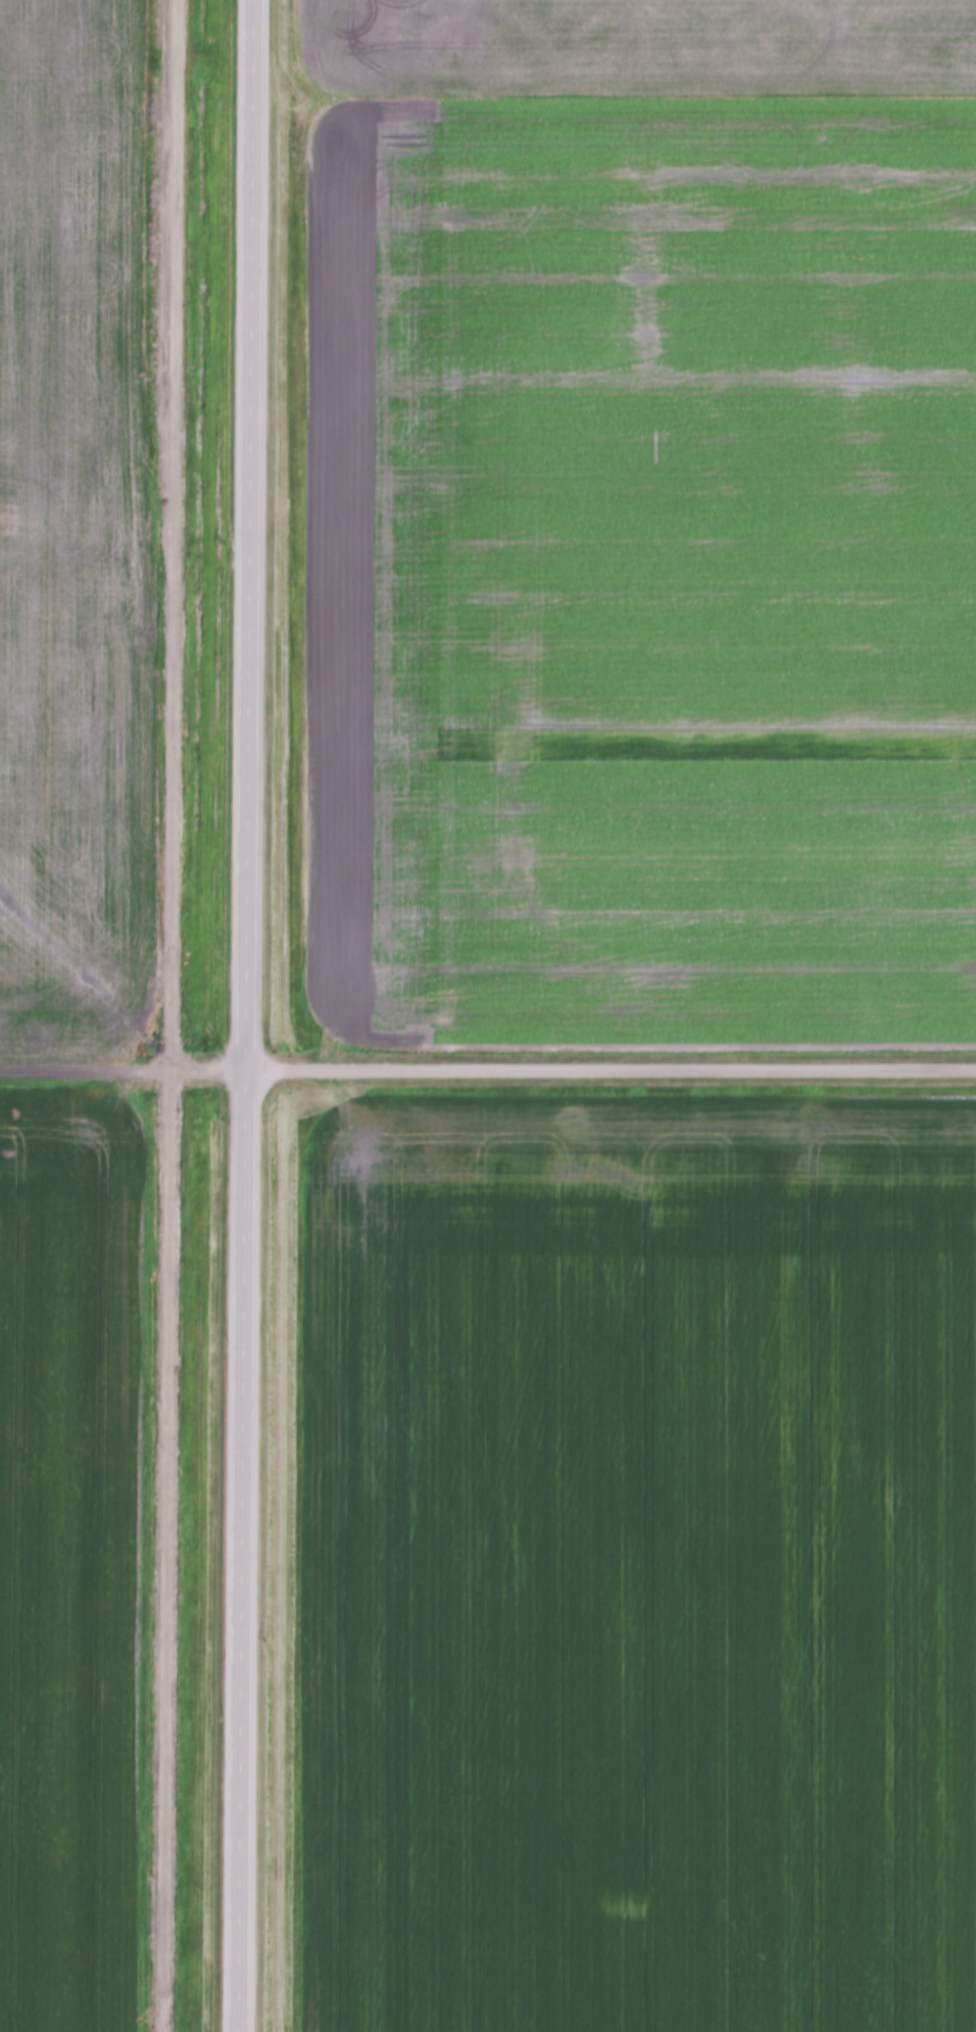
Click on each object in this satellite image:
railway: (166, 1015)
road: (242, 1016)
road: (608, 1061)
road: (121, 1071)

